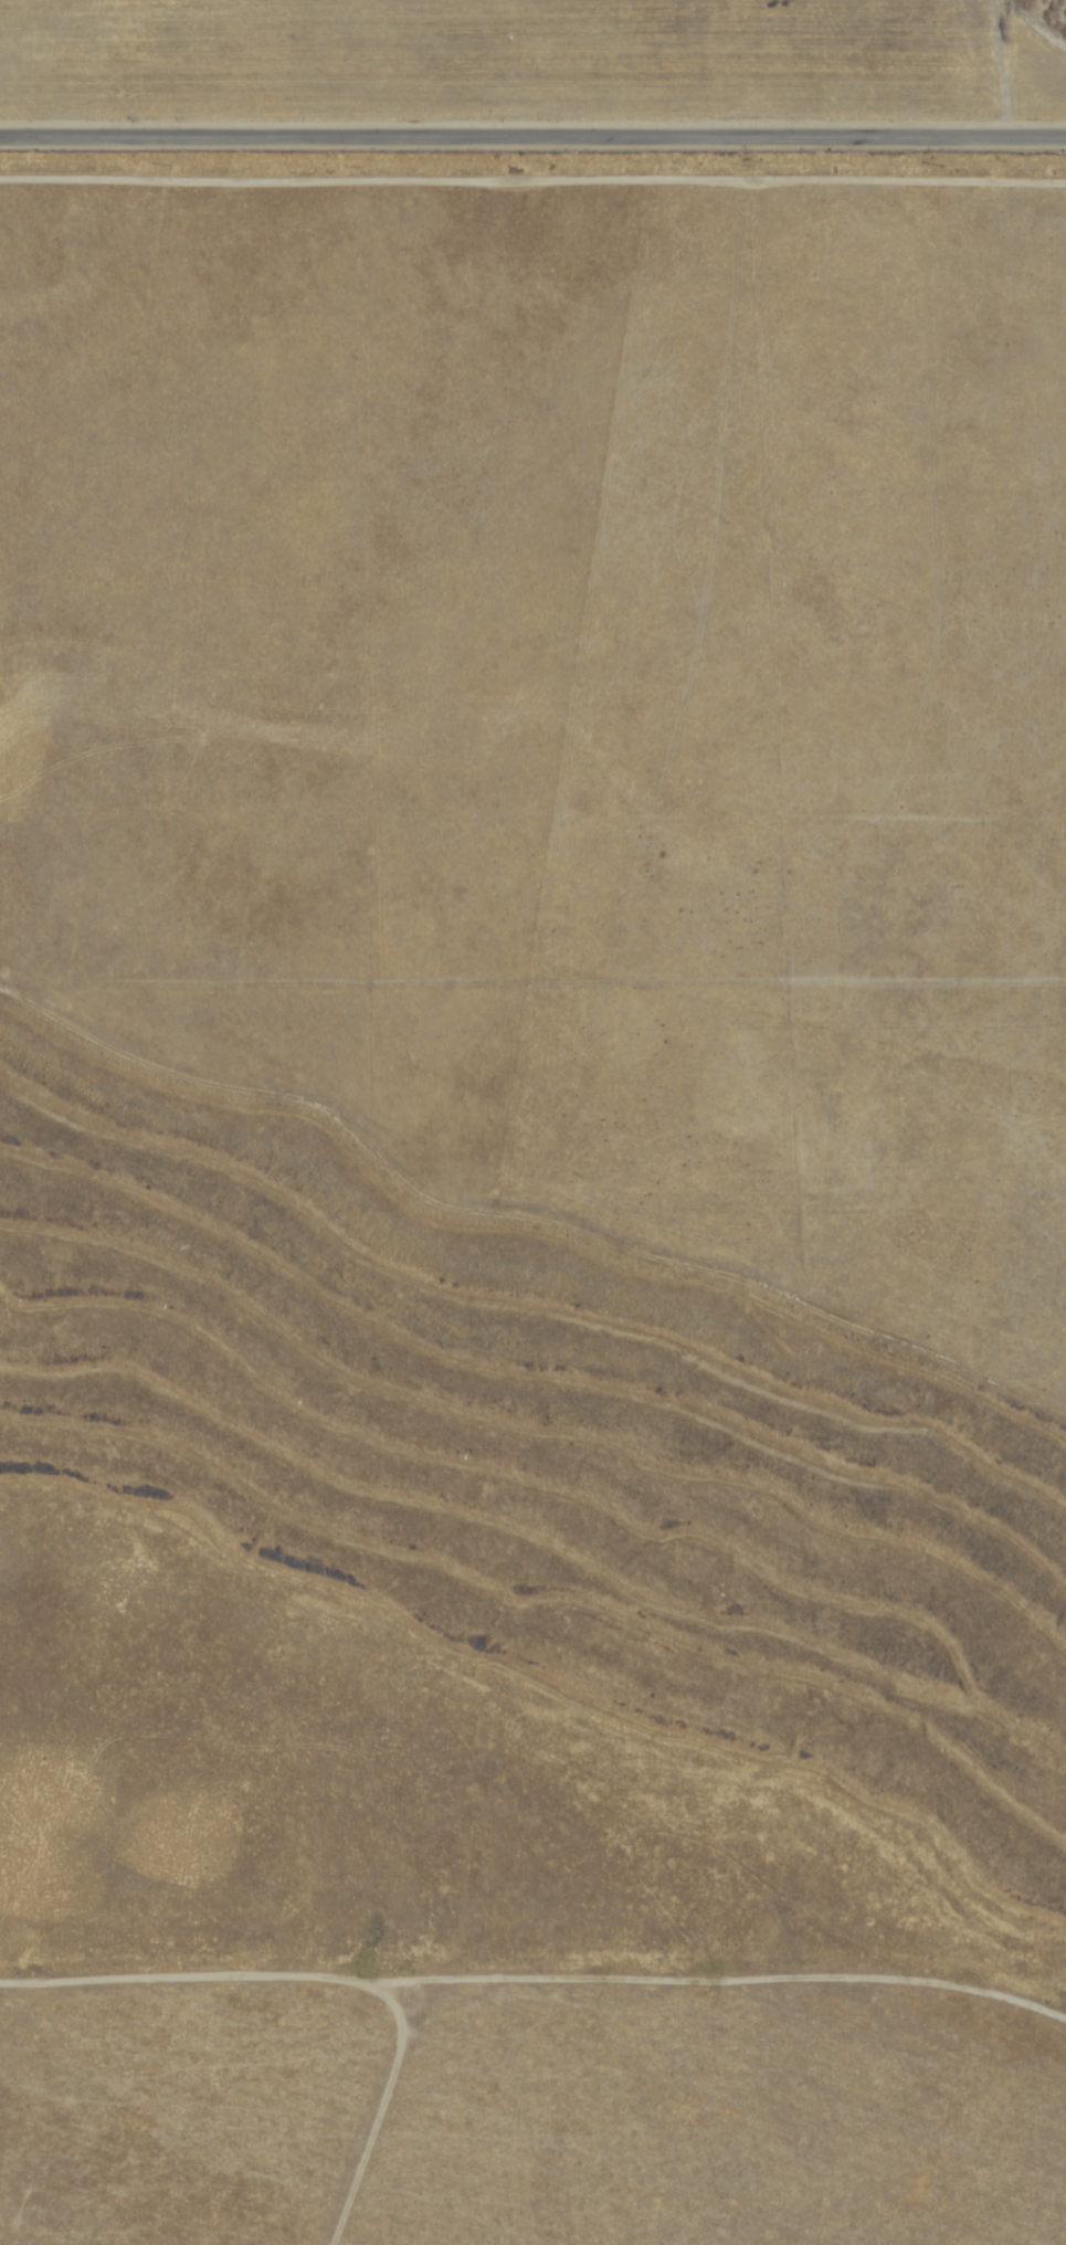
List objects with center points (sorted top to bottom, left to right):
road: (532, 137)

